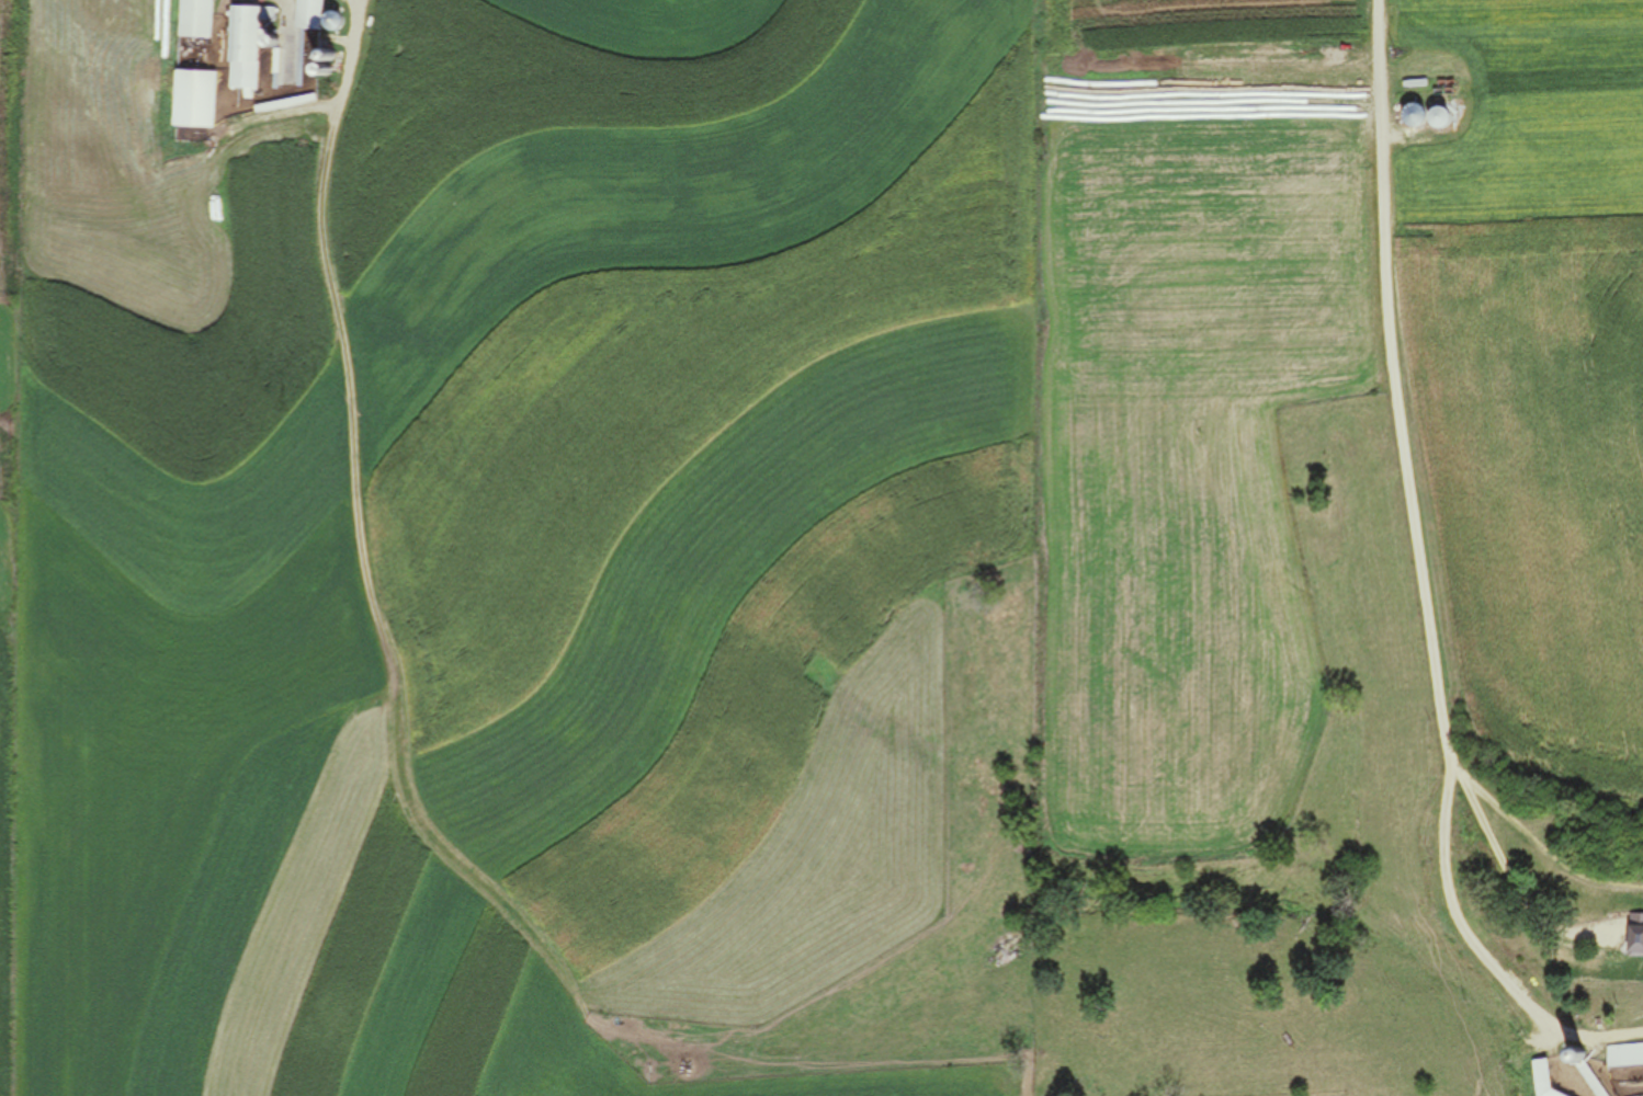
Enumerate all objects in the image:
building: (307, 14)
building: (194, 19)
building: (246, 44)
building: (310, 60)
building: (192, 100)
building: (215, 190)
road: (1409, 537)
building: (1633, 933)

